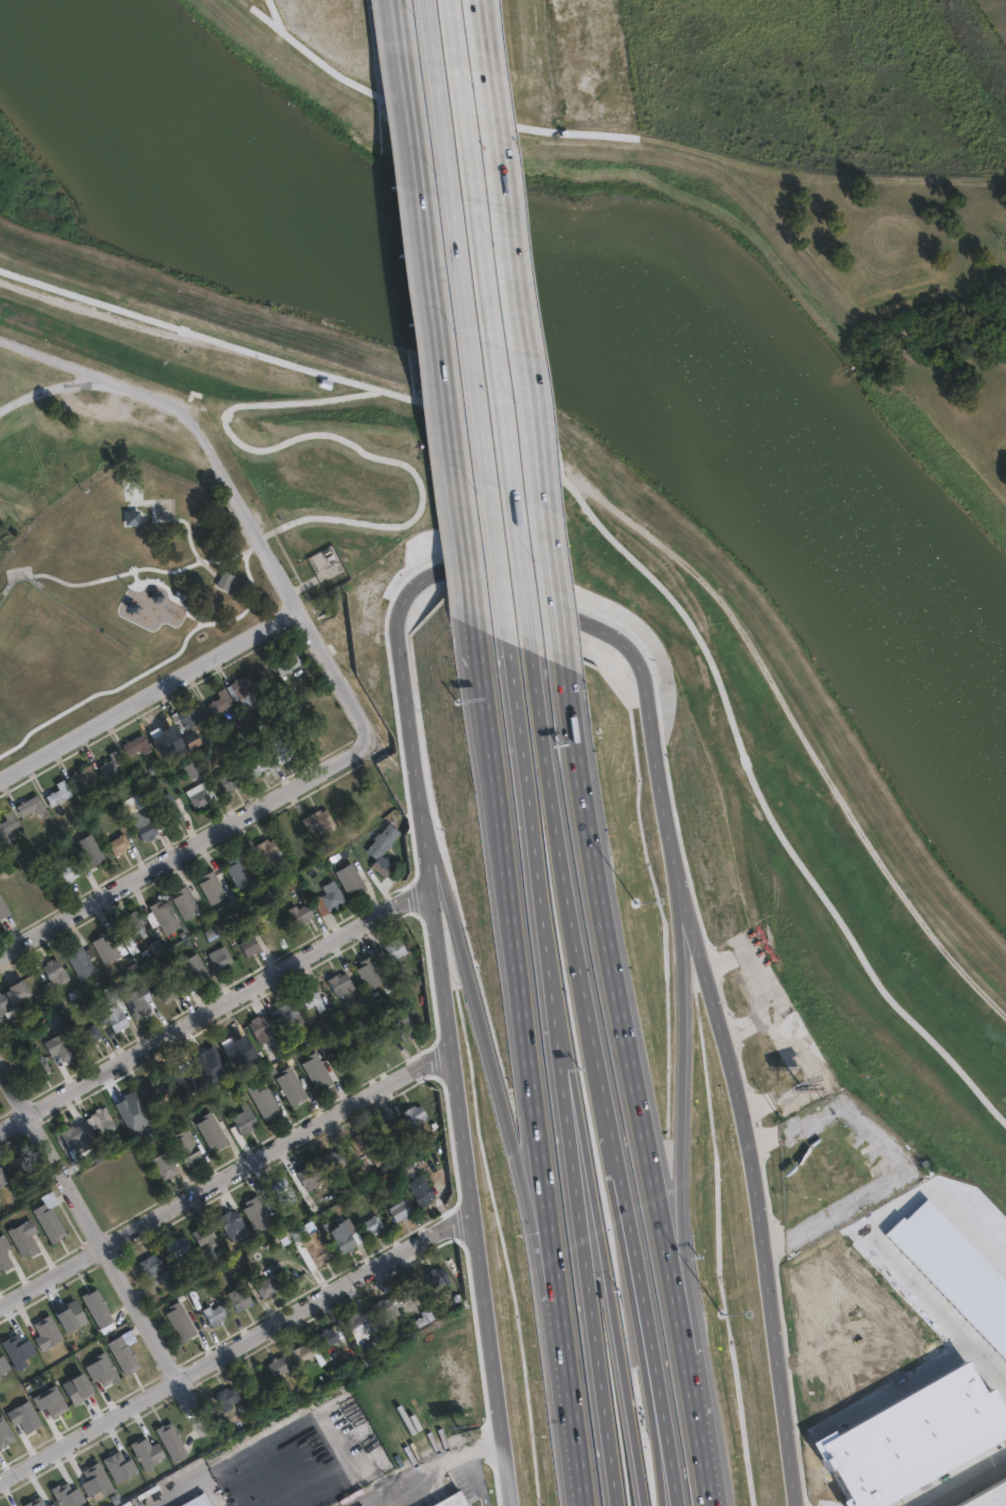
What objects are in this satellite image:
road: (512, 192)
road: (430, 242)
river: (557, 277)
park: (884, 298)
road: (221, 343)
road: (494, 369)
road: (469, 370)
road: (48, 390)
road: (335, 441)
road: (232, 484)
building: (131, 517)
road: (191, 549)
road: (563, 559)
building: (327, 563)
road: (475, 575)
park: (120, 577)
road: (115, 578)
building: (224, 580)
building: (375, 592)
road: (584, 620)
building: (291, 656)
road: (765, 663)
road: (150, 670)
road: (151, 693)
building: (235, 693)
road: (491, 711)
building: (189, 716)
building: (191, 740)
building: (136, 745)
road: (412, 745)
building: (278, 747)
building: (111, 763)
building: (254, 764)
building: (232, 774)
building: (83, 775)
building: (443, 780)
building: (58, 794)
building: (199, 794)
building: (171, 802)
building: (30, 806)
road: (769, 812)
building: (318, 818)
building: (150, 824)
building: (7, 826)
building: (122, 839)
road: (188, 844)
building: (93, 845)
building: (382, 847)
building: (264, 849)
building: (72, 869)
building: (238, 869)
road: (534, 869)
building: (349, 875)
building: (211, 884)
building: (331, 893)
building: (184, 900)
building: (3, 906)
building: (162, 911)
building: (299, 911)
building: (132, 922)
building: (249, 943)
building: (105, 945)
building: (396, 950)
building: (221, 957)
building: (80, 960)
building: (194, 966)
building: (55, 969)
building: (370, 974)
building: (341, 984)
building: (168, 987)
building: (20, 988)
building: (312, 996)
building: (5, 1000)
building: (142, 1003)
building: (114, 1008)
road: (210, 1010)
building: (278, 1022)
building: (405, 1025)
building: (91, 1032)
road: (535, 1047)
building: (41, 1067)
building: (317, 1067)
road: (489, 1075)
building: (292, 1082)
road: (633, 1084)
building: (153, 1090)
building: (263, 1097)
building: (246, 1116)
building: (415, 1116)
building: (101, 1120)
road: (612, 1121)
building: (212, 1128)
building: (389, 1129)
building: (72, 1133)
building: (362, 1141)
building: (187, 1144)
road: (693, 1146)
building: (335, 1157)
road: (459, 1159)
building: (18, 1161)
building: (165, 1162)
building: (310, 1173)
building: (3, 1174)
road: (222, 1180)
road: (752, 1181)
building: (284, 1189)
building: (425, 1191)
building: (402, 1207)
building: (258, 1209)
building: (231, 1216)
road: (88, 1217)
building: (52, 1220)
building: (372, 1224)
building: (205, 1230)
building: (25, 1234)
building: (347, 1234)
building: (320, 1245)
building: (182, 1247)
building: (5, 1250)
road: (603, 1251)
road: (586, 1252)
building: (152, 1262)
building: (169, 1275)
building: (437, 1277)
building: (266, 1283)
building: (412, 1290)
building: (241, 1296)
building: (100, 1309)
building: (383, 1309)
building: (214, 1312)
building: (74, 1318)
building: (425, 1318)
building: (179, 1321)
building: (357, 1323)
building: (49, 1334)
building: (329, 1338)
building: (380, 1344)
road: (231, 1349)
building: (16, 1350)
building: (303, 1353)
building: (125, 1356)
building: (281, 1365)
building: (2, 1366)
building: (101, 1369)
building: (80, 1390)
building: (228, 1398)
building: (53, 1403)
building: (27, 1418)
road: (572, 1422)
building: (4, 1432)
building: (171, 1442)
road: (666, 1449)
building: (146, 1452)
building: (118, 1465)
road: (708, 1469)
road: (213, 1473)
road: (438, 1479)
building: (95, 1482)
road: (480, 1483)
road: (969, 1485)
building: (66, 1495)
building: (990, 1497)
building: (453, 1500)
building: (35, 1502)
building: (50, 1505)

